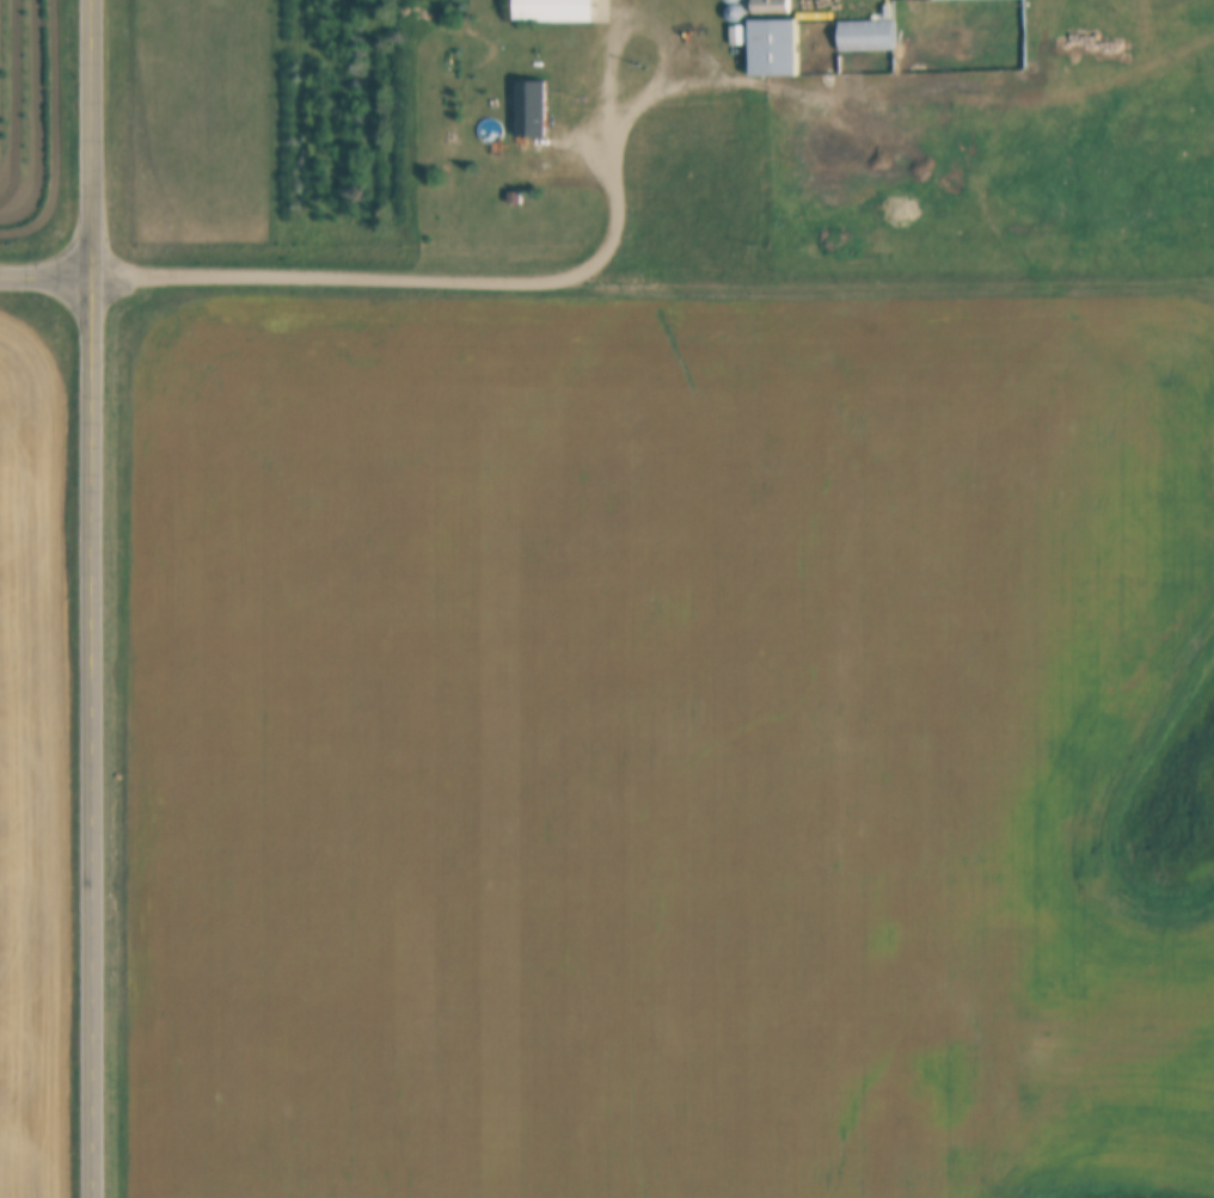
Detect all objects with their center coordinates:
building: (981, 0)
road: (656, 10)
building: (566, 11)
building: (875, 37)
building: (783, 48)
building: (547, 110)
road: (47, 279)
road: (565, 281)
road: (93, 598)

